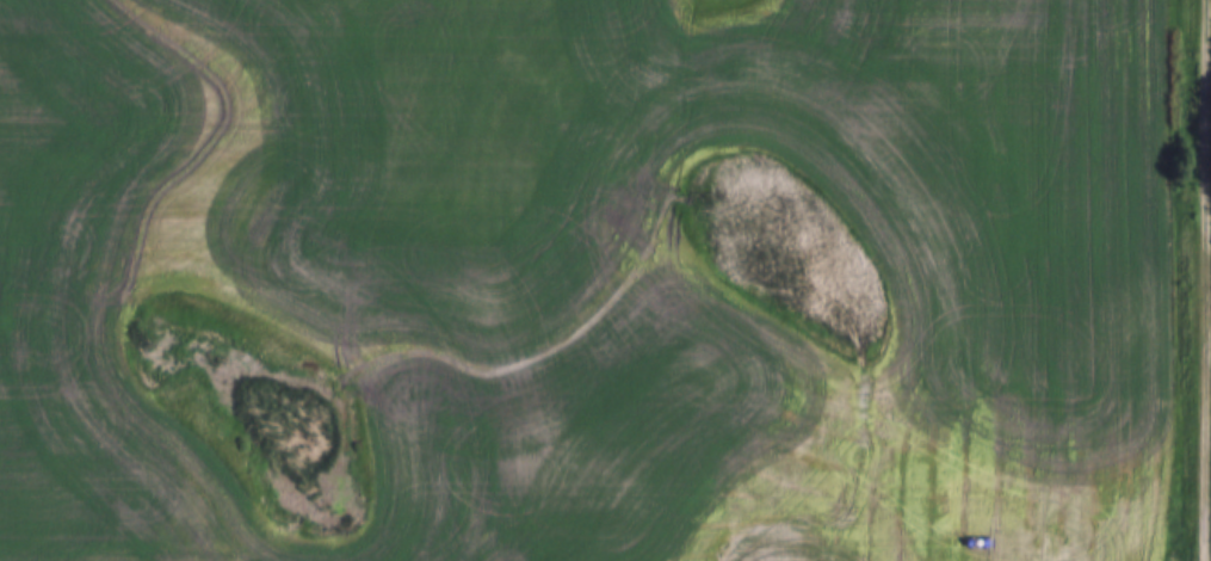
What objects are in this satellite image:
road: (1205, 279)

